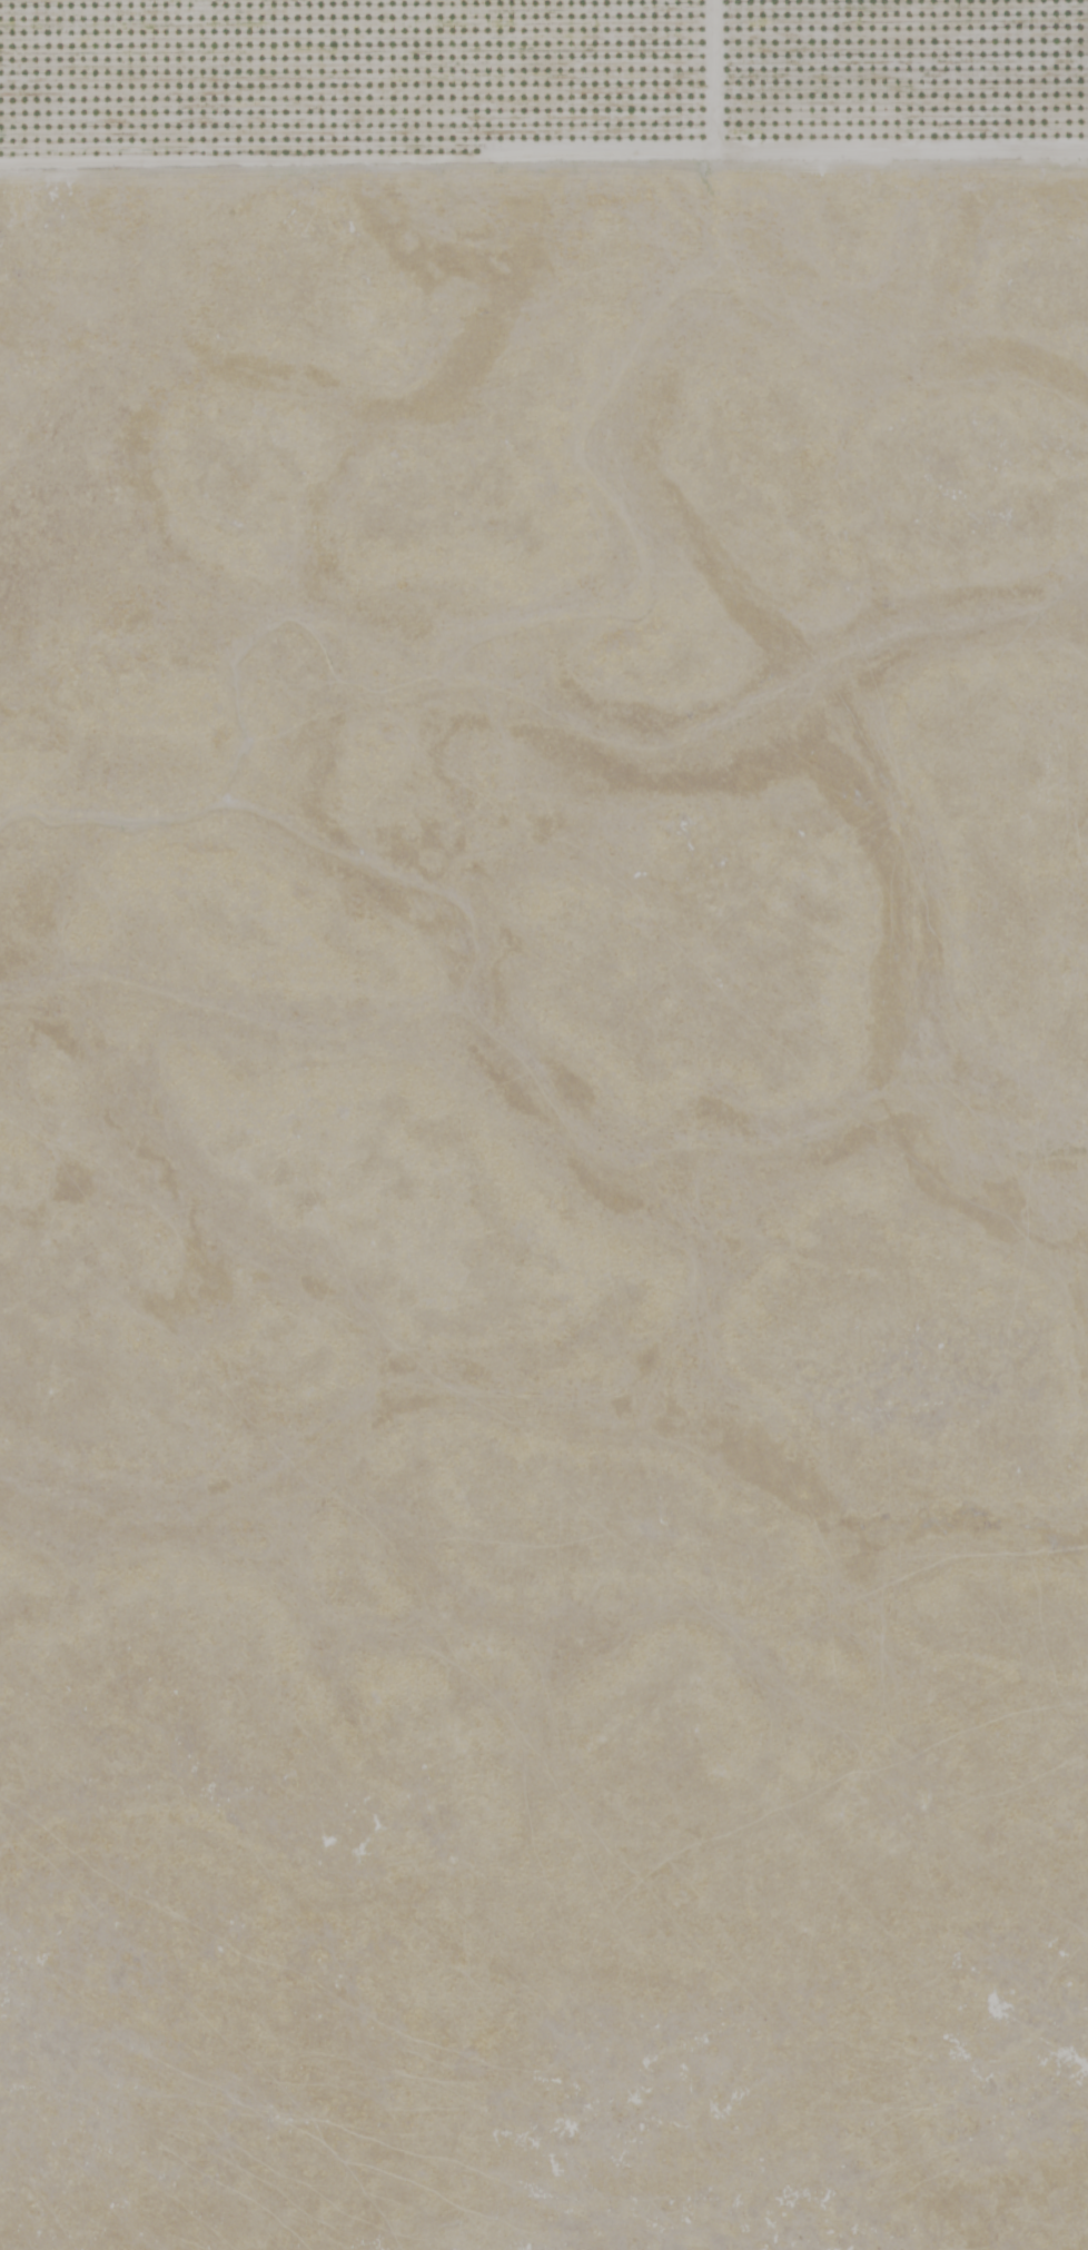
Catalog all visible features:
road: (712, 82)
road: (370, 166)

